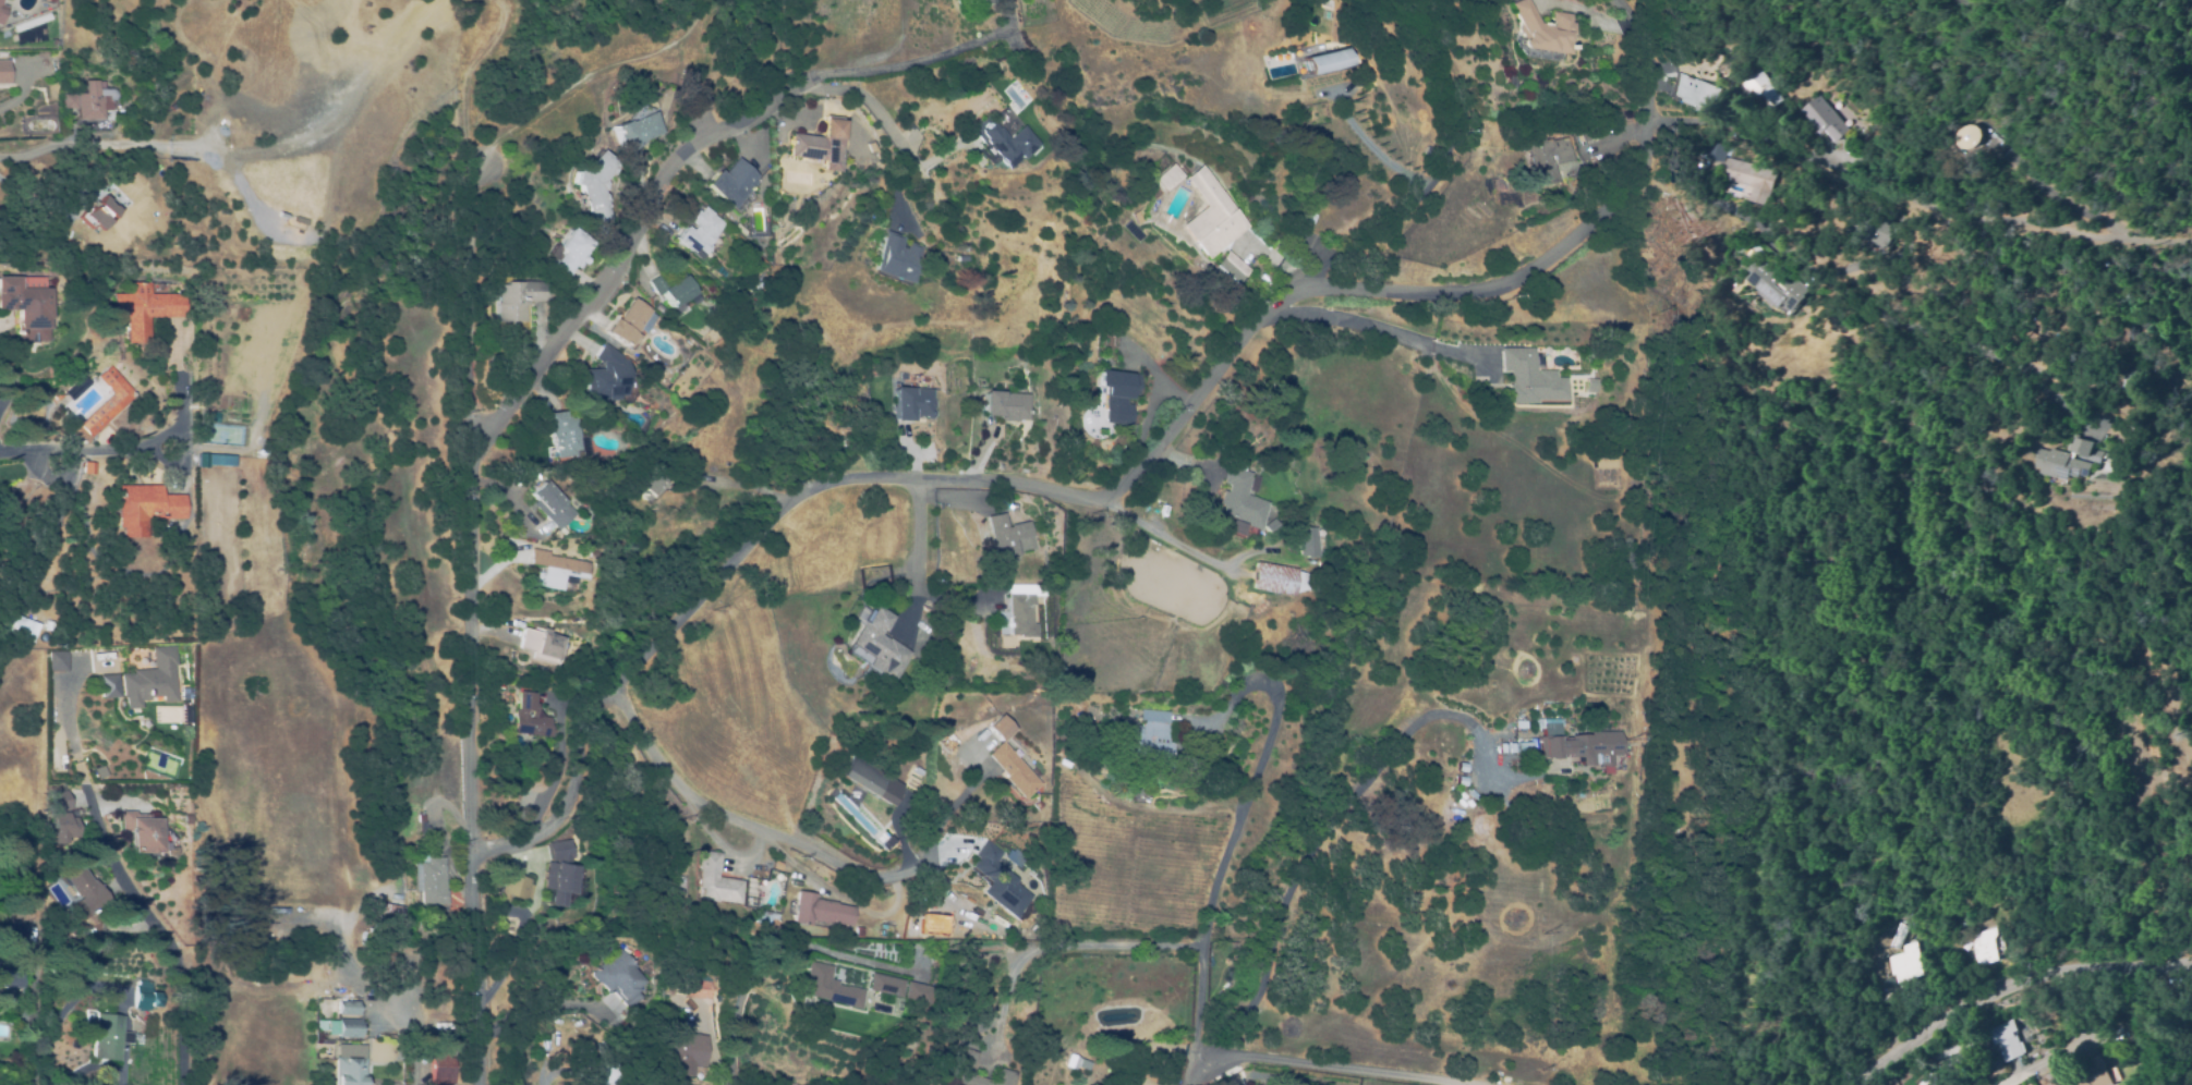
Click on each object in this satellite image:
building: (0, 0)
building: (48, 0)
building: (980, 2)
building: (1, 9)
building: (1542, 29)
road: (917, 54)
building: (1325, 61)
building: (4, 72)
road: (584, 76)
building: (1760, 92)
building: (1695, 93)
building: (93, 100)
building: (175, 103)
road: (879, 107)
building: (1825, 118)
building: (633, 131)
building: (1596, 136)
building: (1969, 136)
building: (1005, 142)
road: (99, 144)
building: (819, 145)
building: (875, 156)
building: (1548, 158)
road: (1427, 169)
building: (1740, 170)
building: (1170, 178)
building: (594, 184)
building: (725, 184)
road: (1917, 195)
building: (105, 211)
building: (1213, 215)
building: (1137, 217)
building: (1307, 218)
building: (1873, 228)
building: (691, 231)
road: (623, 248)
building: (966, 248)
building: (565, 252)
building: (896, 257)
building: (962, 258)
building: (1230, 270)
building: (1265, 279)
building: (1777, 284)
building: (663, 289)
building: (731, 293)
building: (514, 300)
road: (1837, 304)
building: (26, 308)
building: (145, 309)
building: (618, 322)
building: (596, 374)
building: (1528, 375)
building: (2128, 376)
building: (1591, 385)
building: (80, 388)
building: (59, 395)
building: (1112, 395)
building: (118, 397)
building: (913, 401)
building: (1004, 405)
building: (211, 415)
building: (554, 434)
building: (2080, 444)
road: (112, 448)
building: (1243, 453)
building: (215, 460)
building: (1606, 461)
building: (2059, 462)
building: (679, 475)
road: (1013, 484)
building: (645, 486)
building: (1238, 499)
building: (545, 507)
building: (145, 508)
road: (467, 524)
building: (1005, 533)
building: (1306, 540)
road: (1179, 547)
road: (916, 550)
building: (549, 569)
building: (1047, 574)
building: (1276, 578)
building: (883, 600)
building: (1019, 609)
building: (19, 625)
building: (876, 642)
building: (537, 645)
building: (1050, 650)
building: (57, 660)
building: (534, 672)
building: (152, 680)
building: (108, 685)
building: (495, 685)
building: (186, 691)
building: (186, 714)
building: (525, 718)
building: (1000, 728)
building: (1145, 740)
building: (1577, 744)
building: (1511, 747)
building: (1502, 748)
building: (1523, 748)
building: (882, 757)
building: (1457, 767)
building: (1013, 769)
building: (870, 780)
building: (1455, 781)
building: (61, 801)
road: (1339, 815)
road: (729, 817)
building: (84, 822)
building: (428, 826)
building: (62, 827)
building: (143, 833)
building: (883, 841)
building: (560, 873)
building: (432, 878)
building: (714, 880)
building: (1000, 880)
building: (749, 887)
road: (133, 888)
building: (516, 888)
building: (84, 890)
road: (1221, 892)
building: (749, 901)
building: (397, 910)
building: (819, 911)
building: (761, 916)
building: (1961, 927)
building: (859, 932)
building: (22, 935)
road: (1073, 946)
building: (1984, 946)
building: (388, 956)
road: (766, 959)
building: (1908, 963)
building: (11, 975)
building: (621, 975)
building: (885, 984)
road: (2010, 985)
building: (698, 986)
building: (825, 987)
building: (145, 992)
building: (920, 992)
road: (71, 1007)
building: (348, 1008)
road: (1110, 1021)
building: (344, 1027)
building: (111, 1037)
building: (452, 1038)
building: (2008, 1040)
building: (682, 1047)
building: (1071, 1062)
road: (2042, 1063)
building: (1082, 1064)
building: (959, 1065)
road: (1331, 1066)
building: (444, 1068)
building: (2061, 1070)
building: (349, 1071)
building: (606, 1074)
building: (2095, 1074)
building: (1934, 1083)

